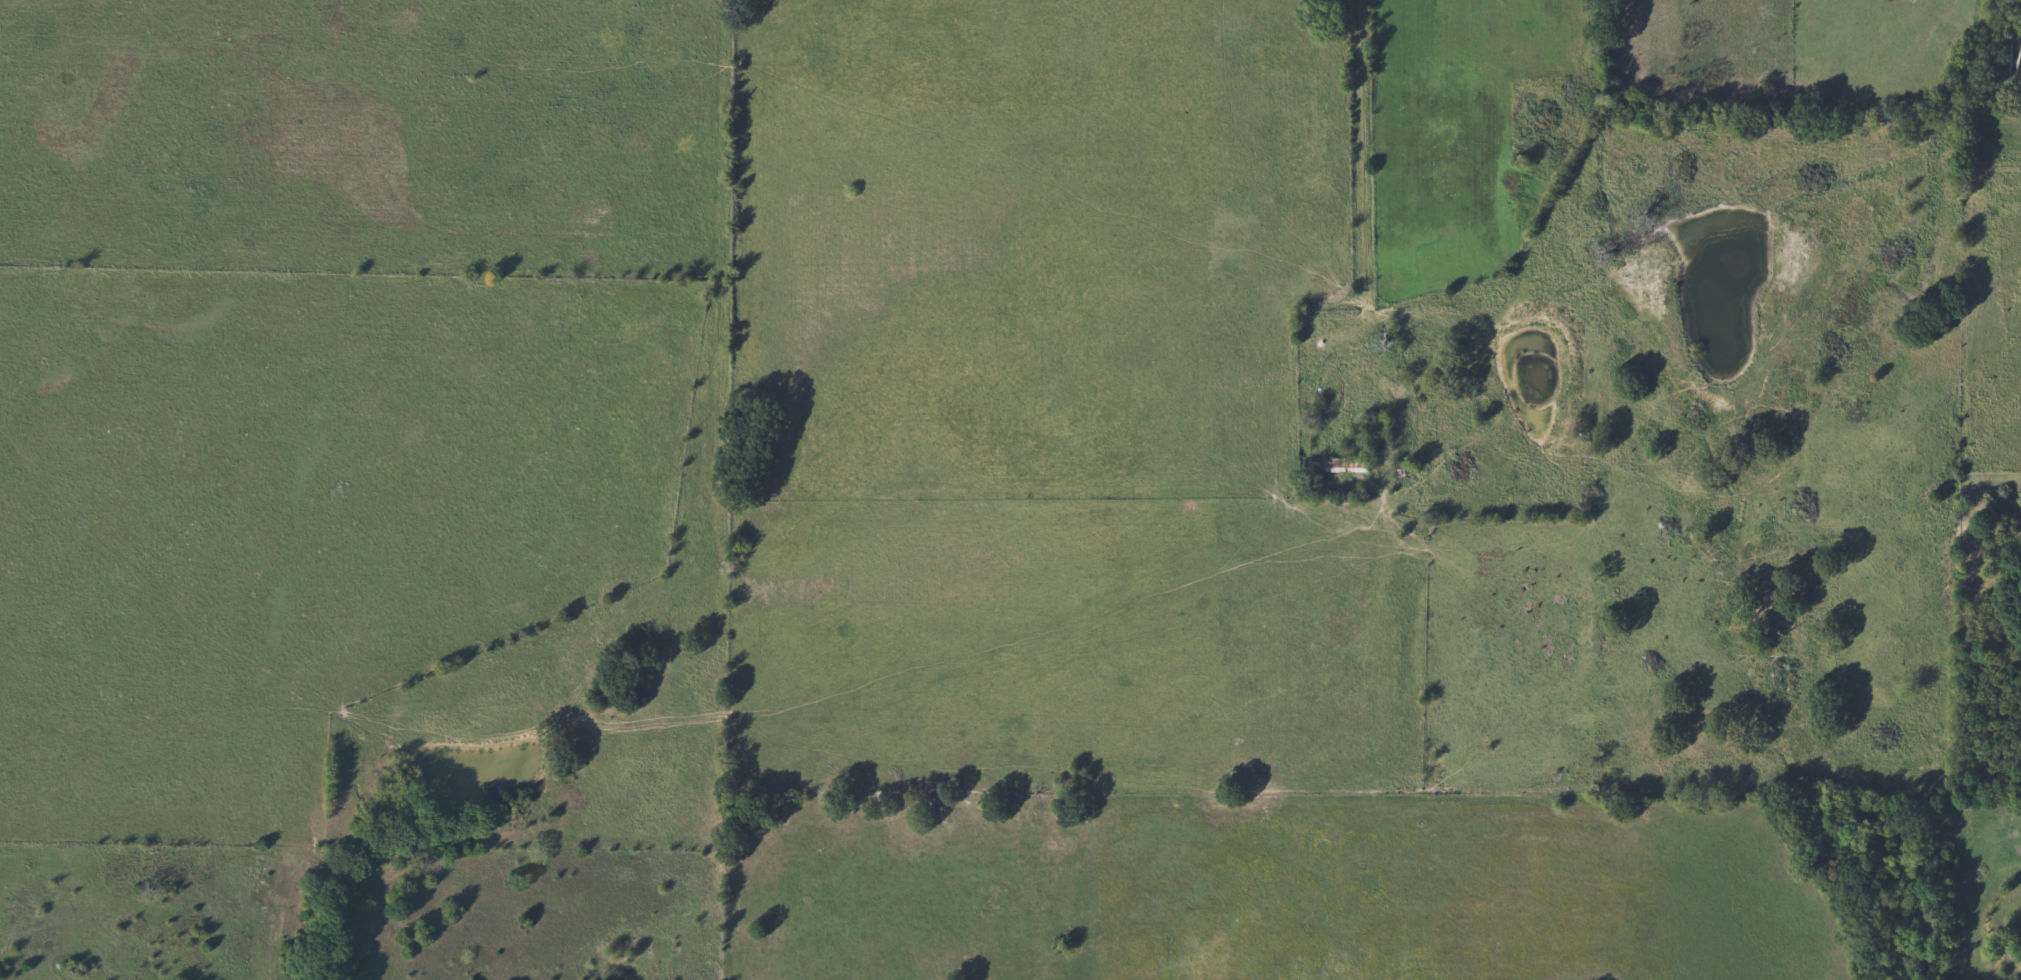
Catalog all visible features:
road: (1366, 155)

